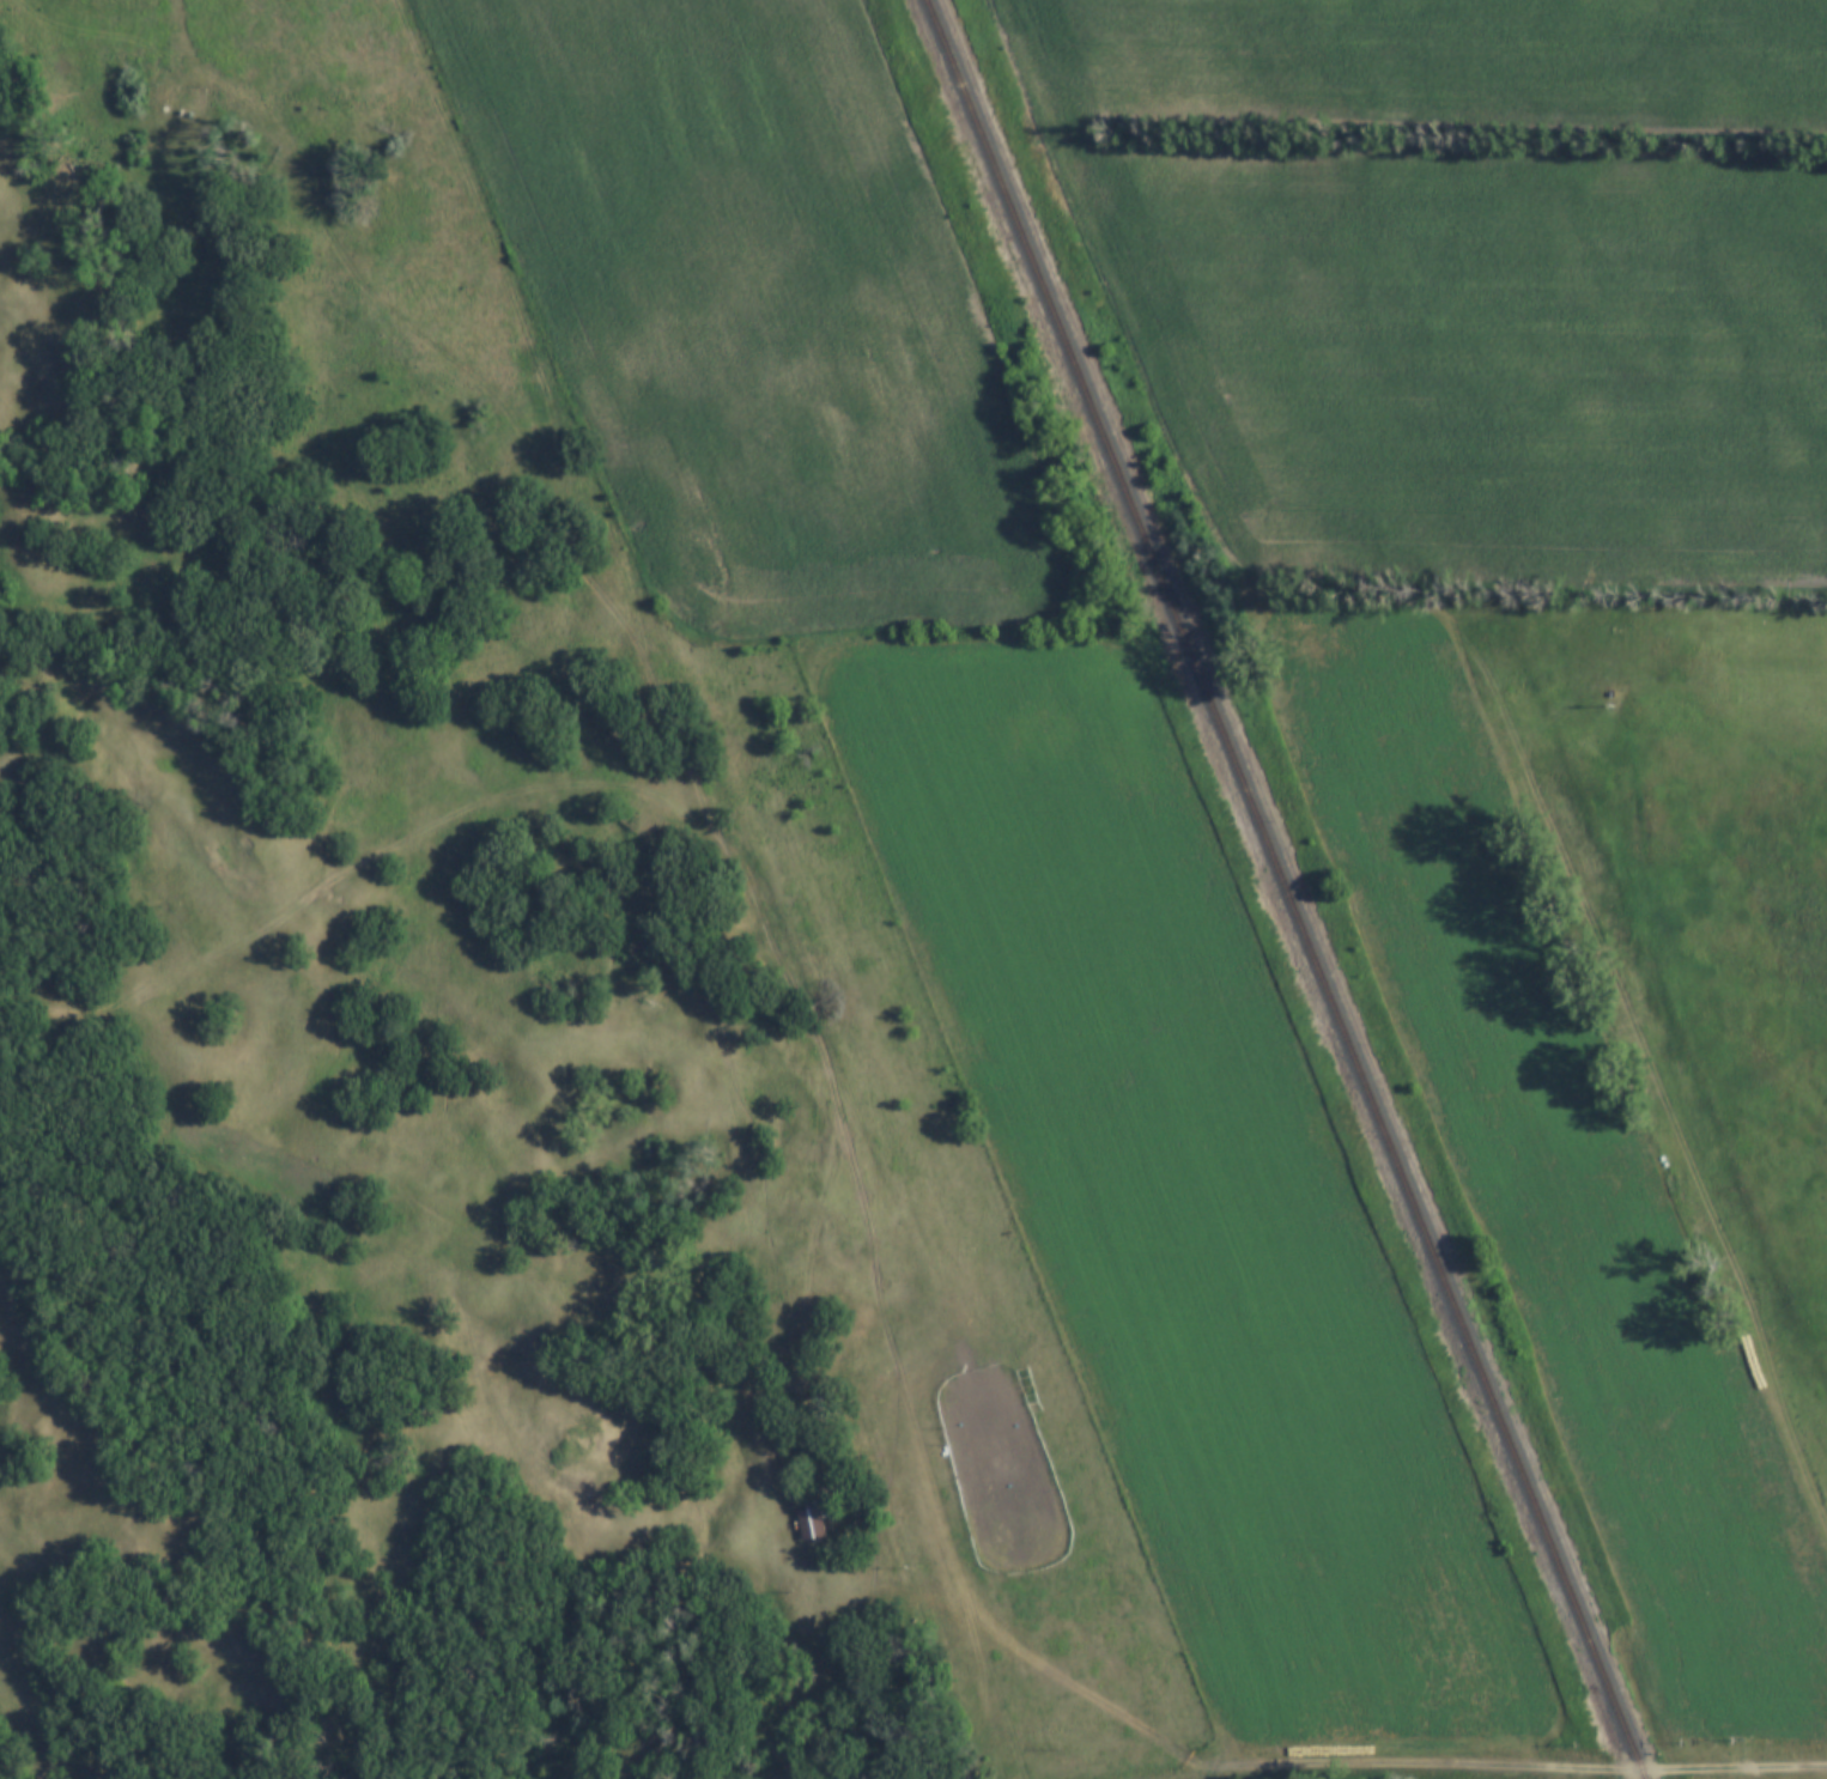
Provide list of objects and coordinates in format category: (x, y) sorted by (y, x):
railway: (1286, 888)
building: (809, 1523)
road: (1474, 1763)

